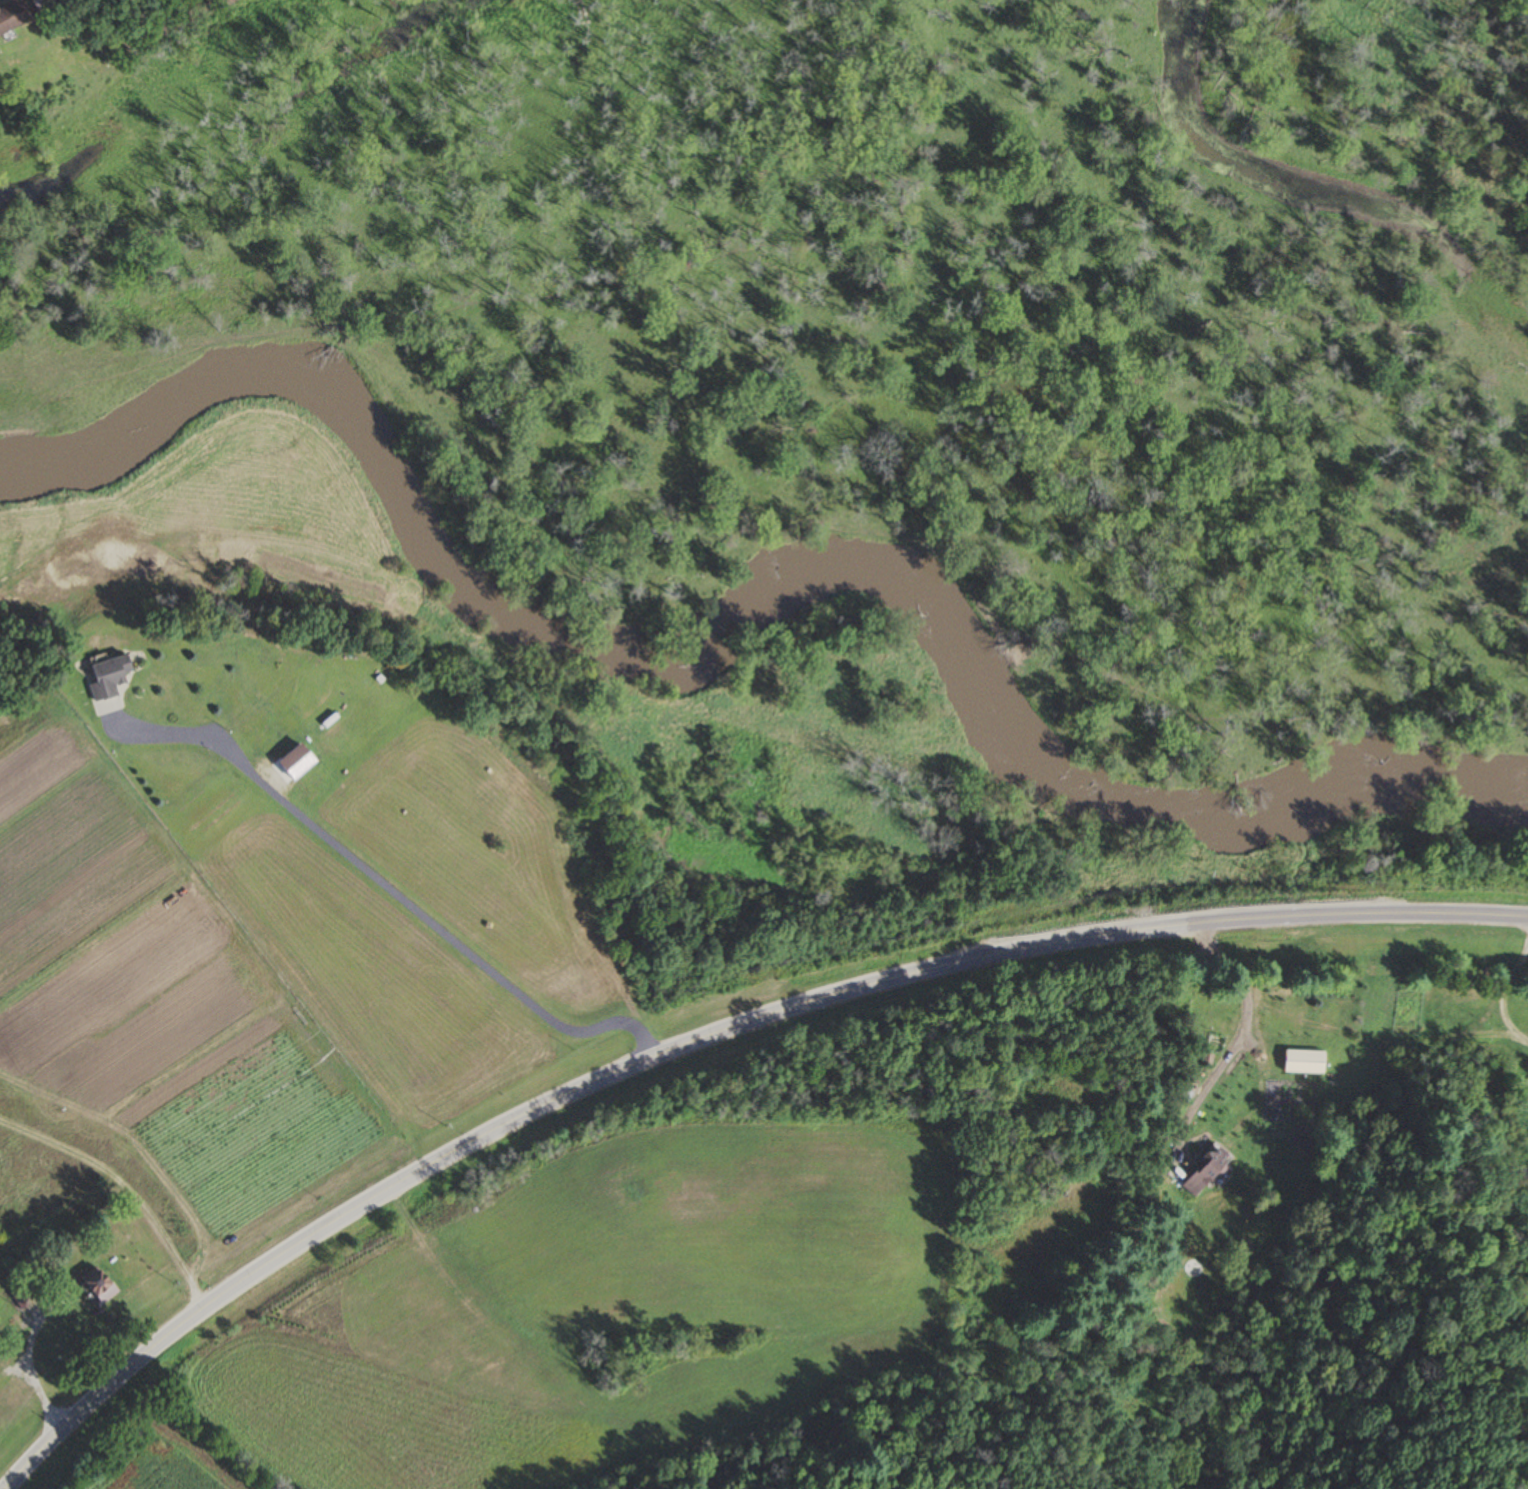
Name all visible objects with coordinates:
building: (15, 13)
river: (749, 609)
building: (107, 677)
building: (295, 762)
road: (1240, 1036)
road: (703, 1037)
building: (1303, 1063)
building: (1204, 1172)
road: (126, 1192)
building: (97, 1286)
road: (29, 1375)

